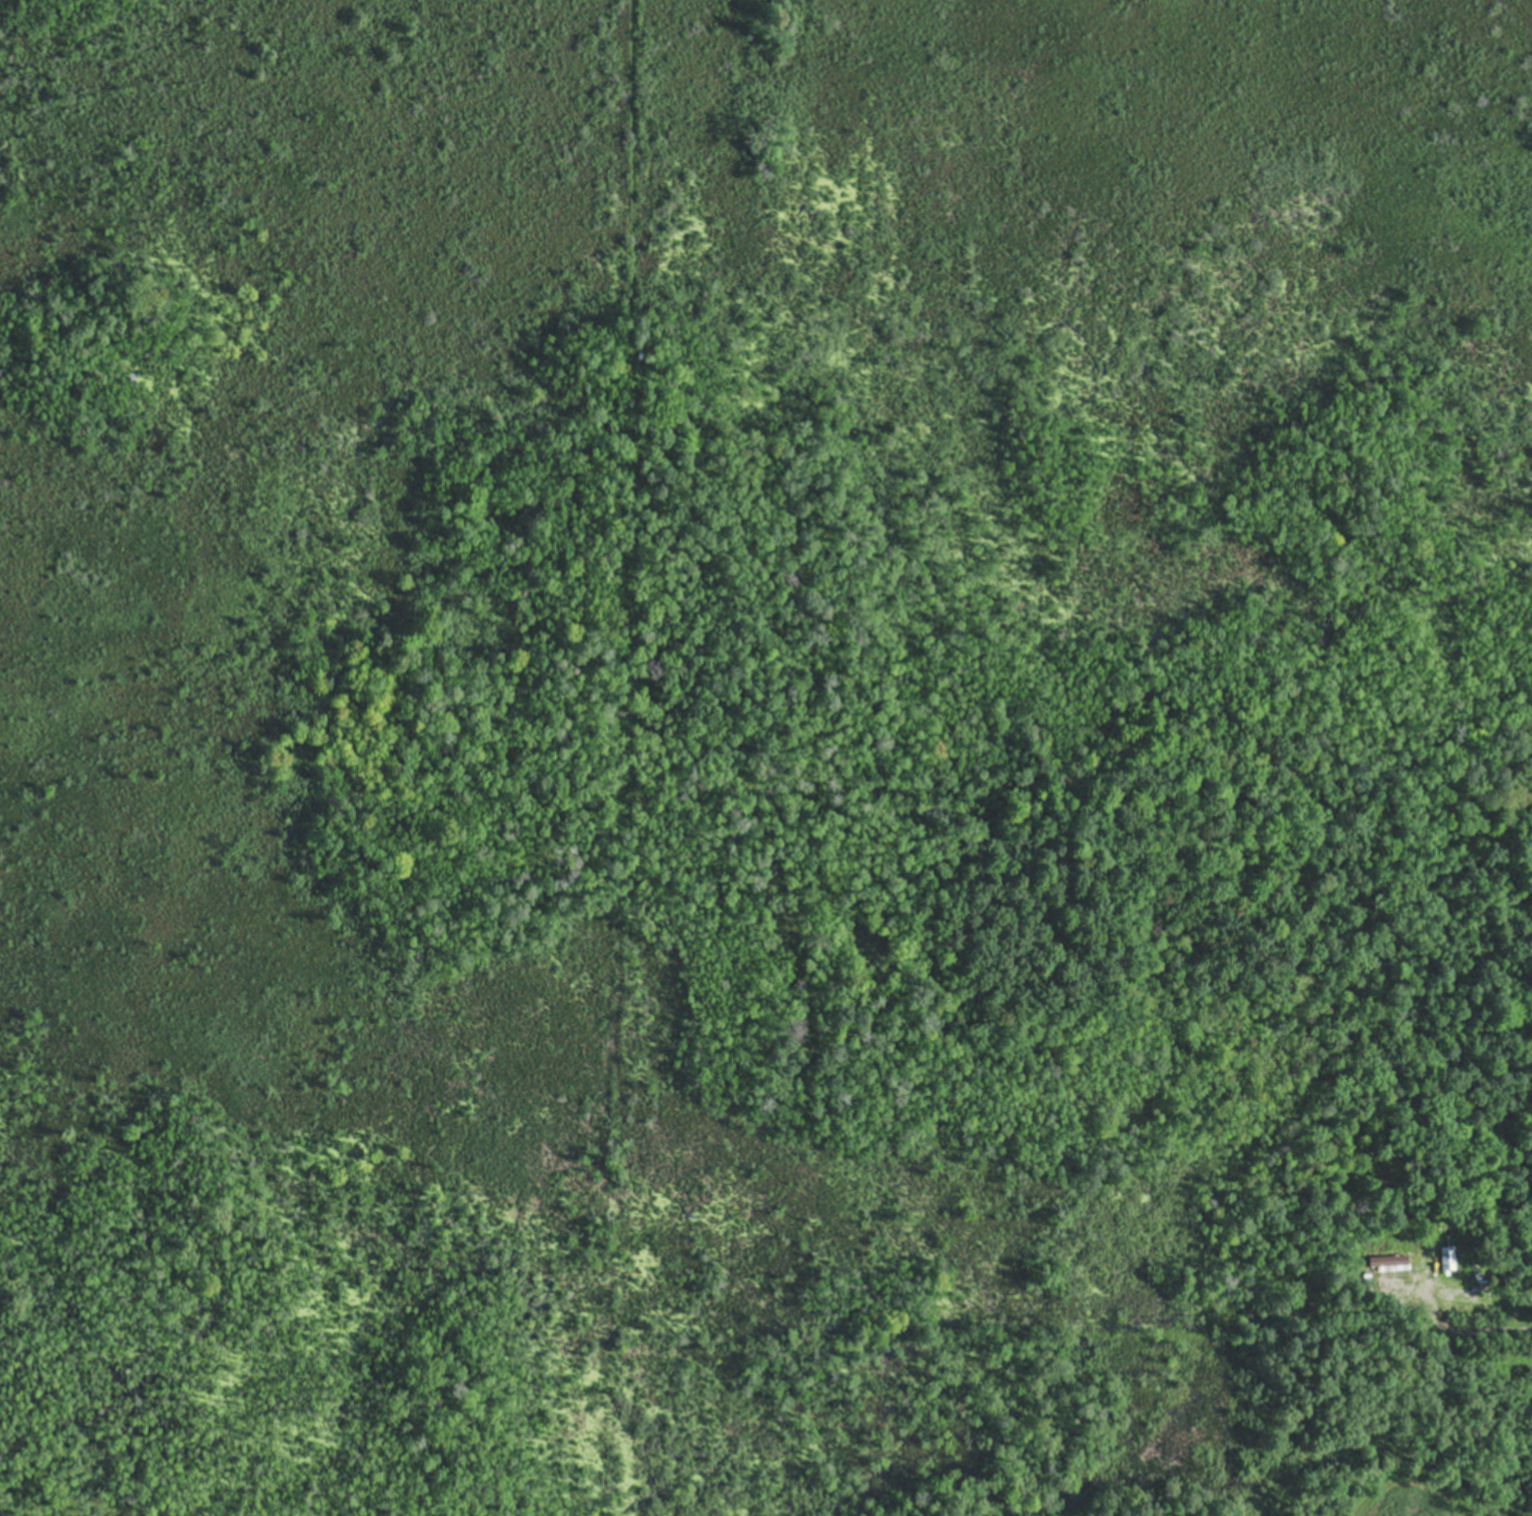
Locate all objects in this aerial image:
building: (1447, 1256)
building: (1389, 1260)
road: (1486, 1333)

